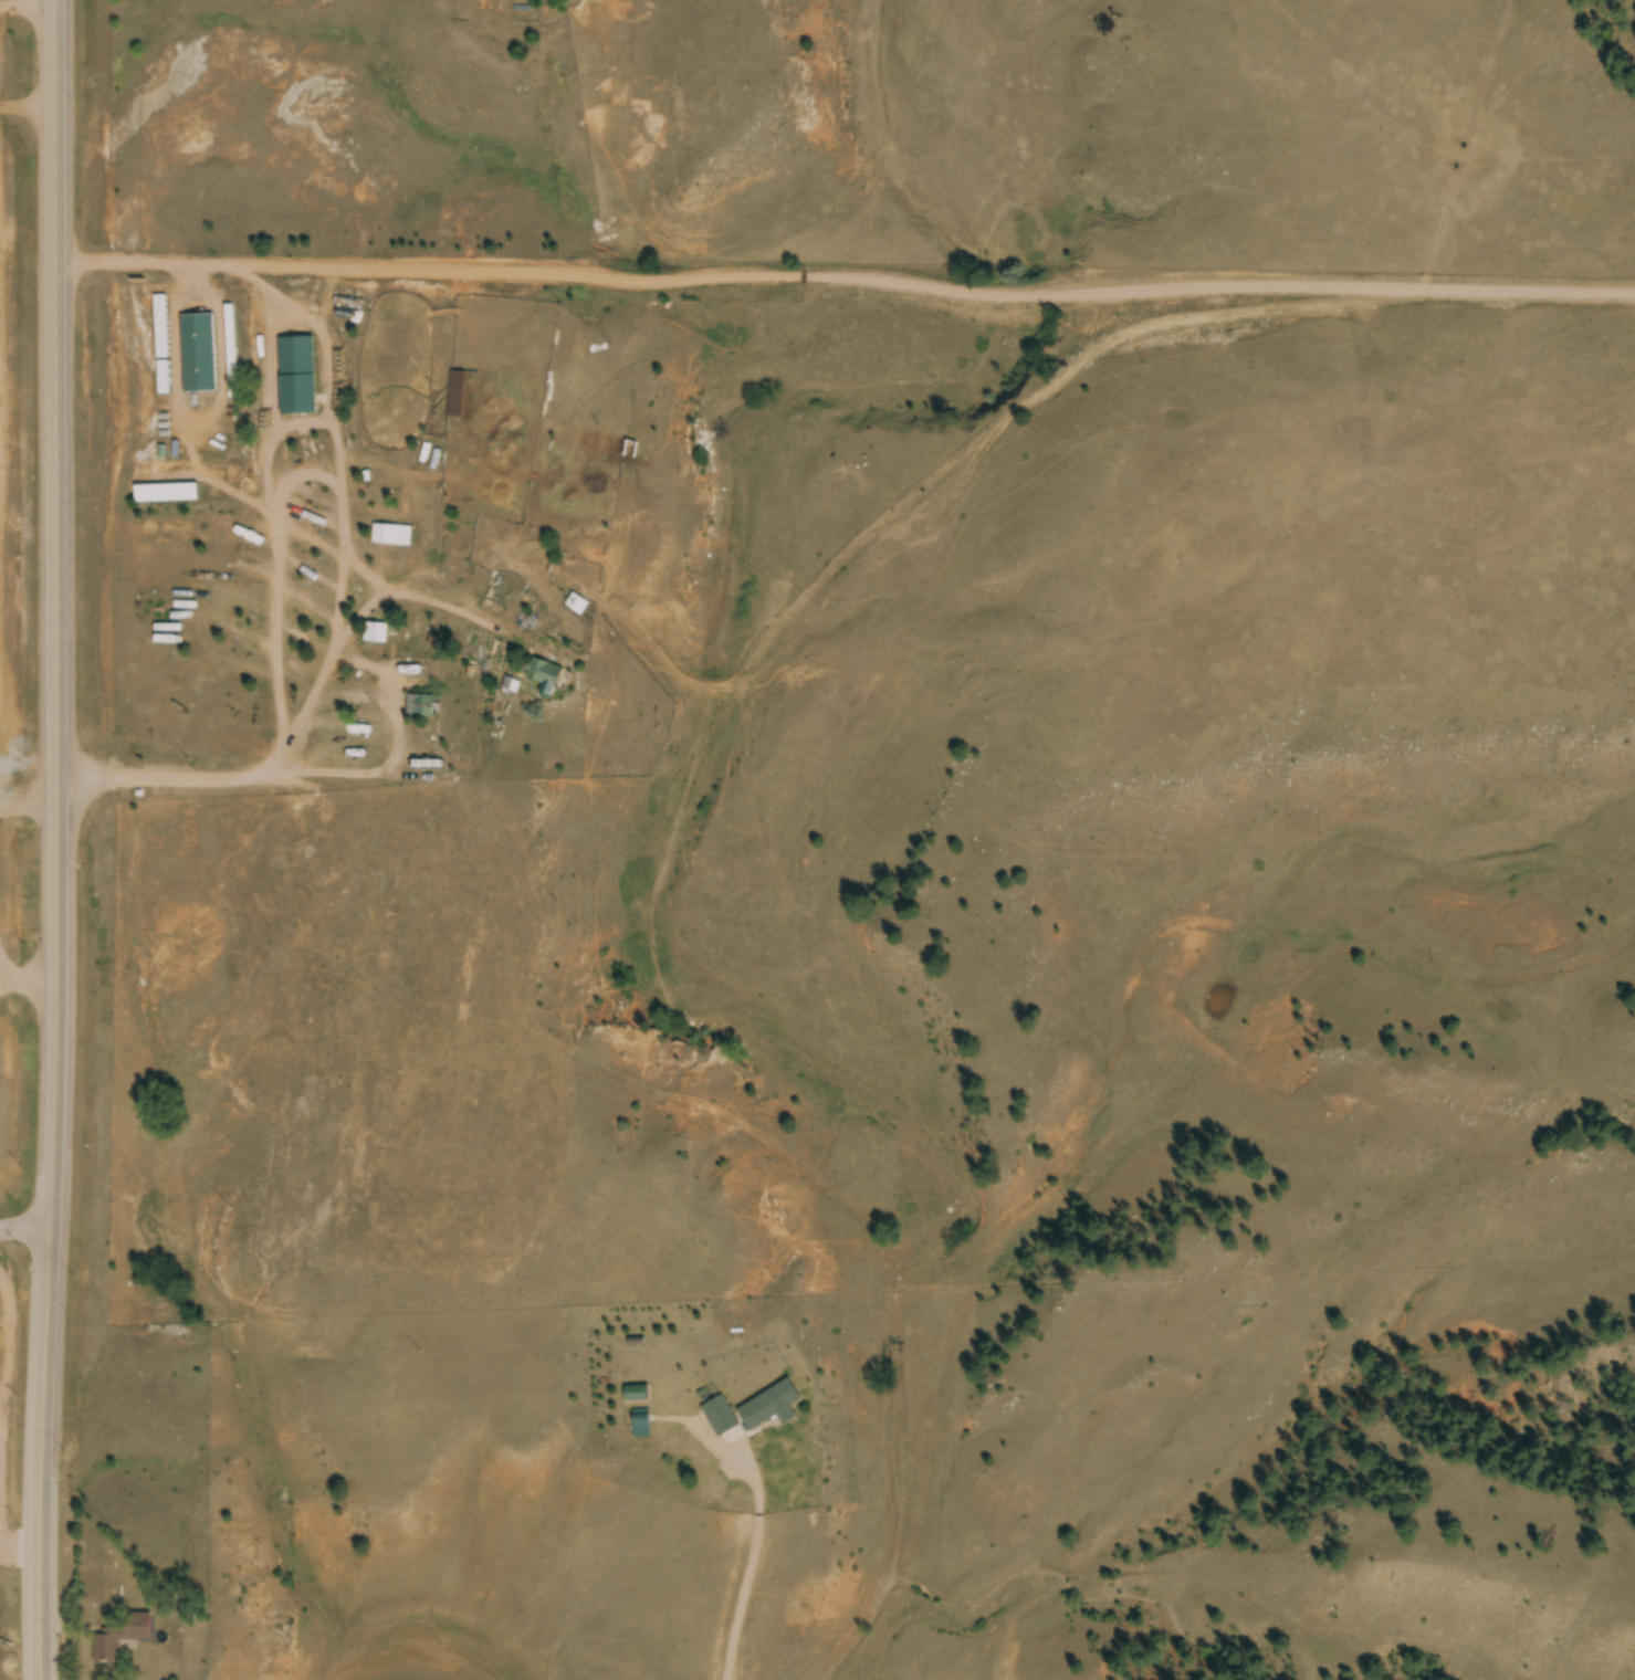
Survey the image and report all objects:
road: (843, 279)
building: (160, 347)
building: (230, 354)
building: (197, 355)
building: (295, 377)
building: (606, 447)
building: (166, 495)
building: (382, 536)
building: (576, 606)
road: (51, 611)
building: (375, 634)
building: (543, 678)
building: (420, 708)
building: (358, 752)
building: (422, 778)
road: (24, 1227)
building: (769, 1407)
building: (719, 1417)
building: (640, 1424)
road: (45, 1451)
road: (747, 1599)
building: (119, 1637)

